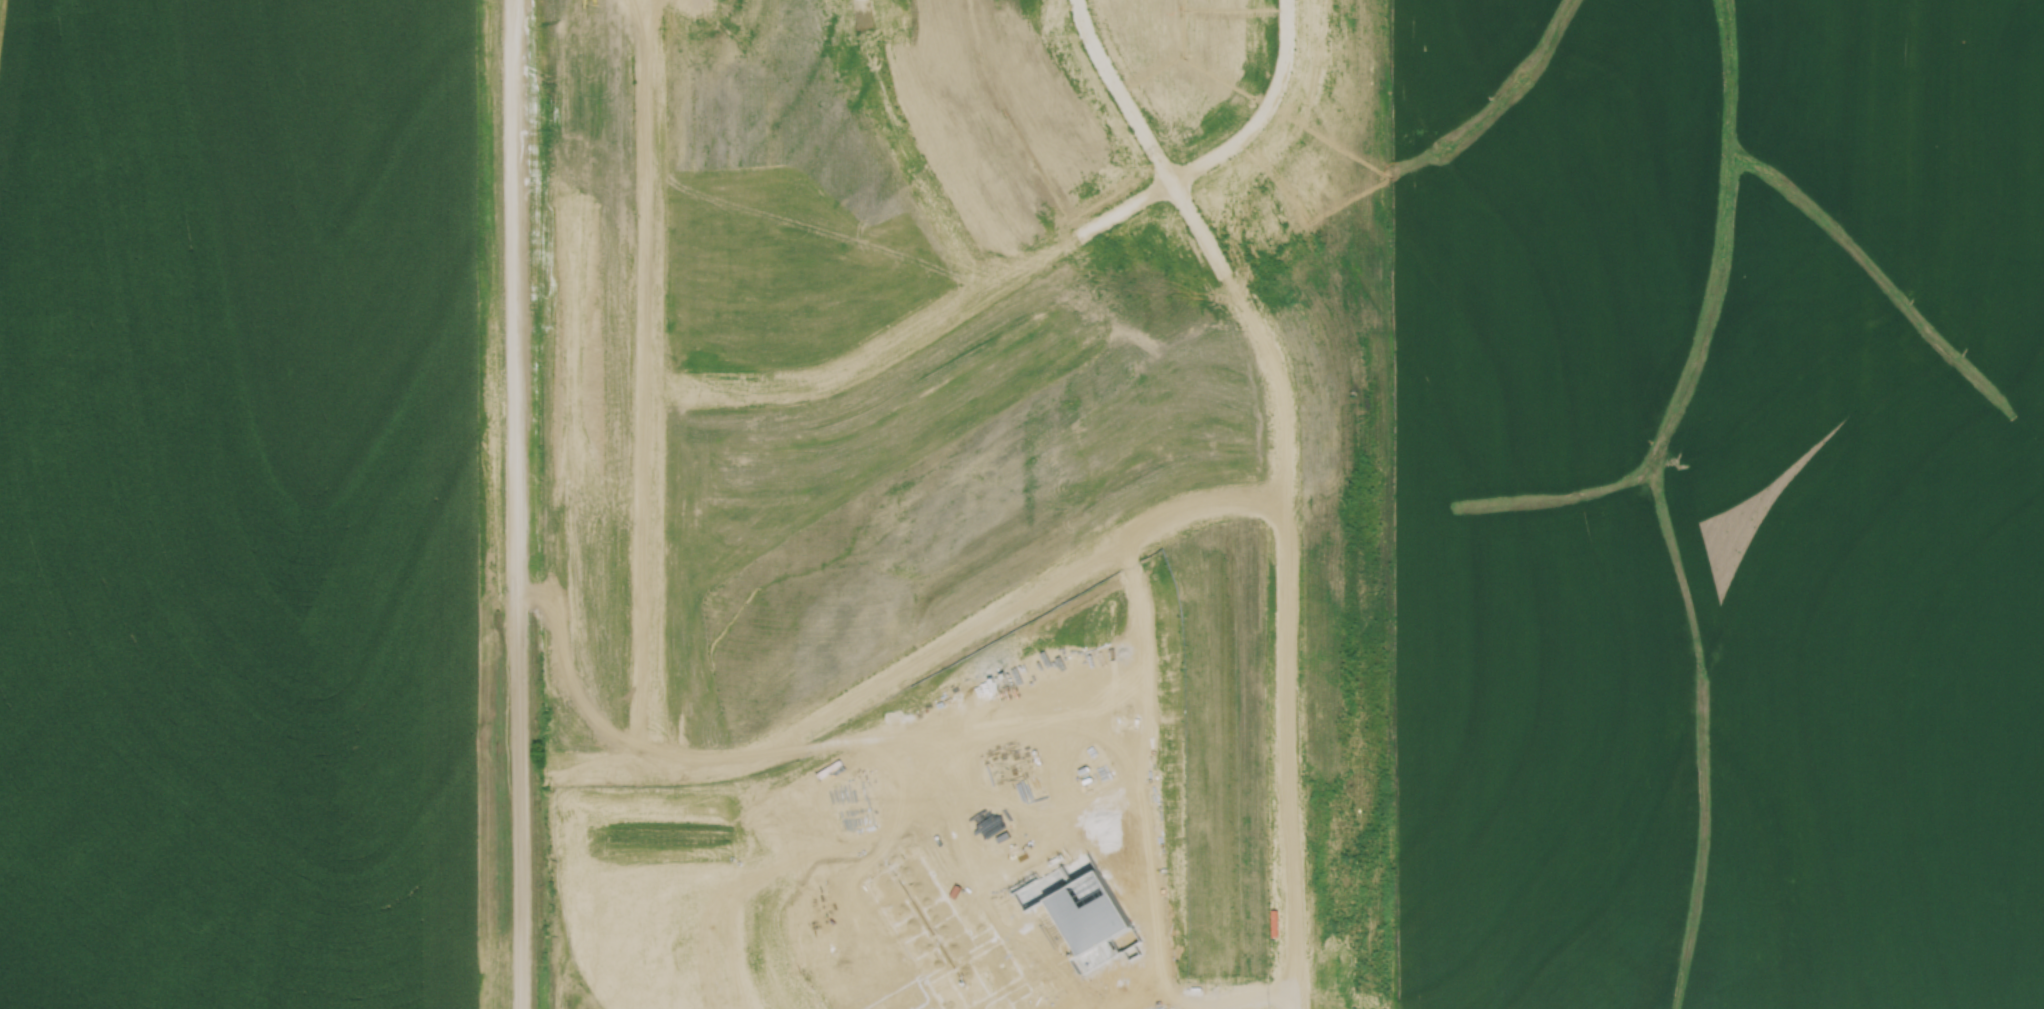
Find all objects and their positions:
road: (859, 2)
road: (1116, 86)
road: (1259, 110)
road: (906, 147)
road: (648, 192)
road: (918, 318)
crop: (1719, 503)
road: (515, 504)
crop: (244, 507)
road: (650, 572)
road: (1284, 575)
road: (1128, 620)
road: (1139, 645)
road: (908, 655)
road: (1083, 708)
road: (1021, 748)
road: (958, 785)
road: (928, 802)
road: (780, 815)
building: (995, 931)
road: (1128, 1004)
road: (1225, 1007)
road: (1185, 1008)

